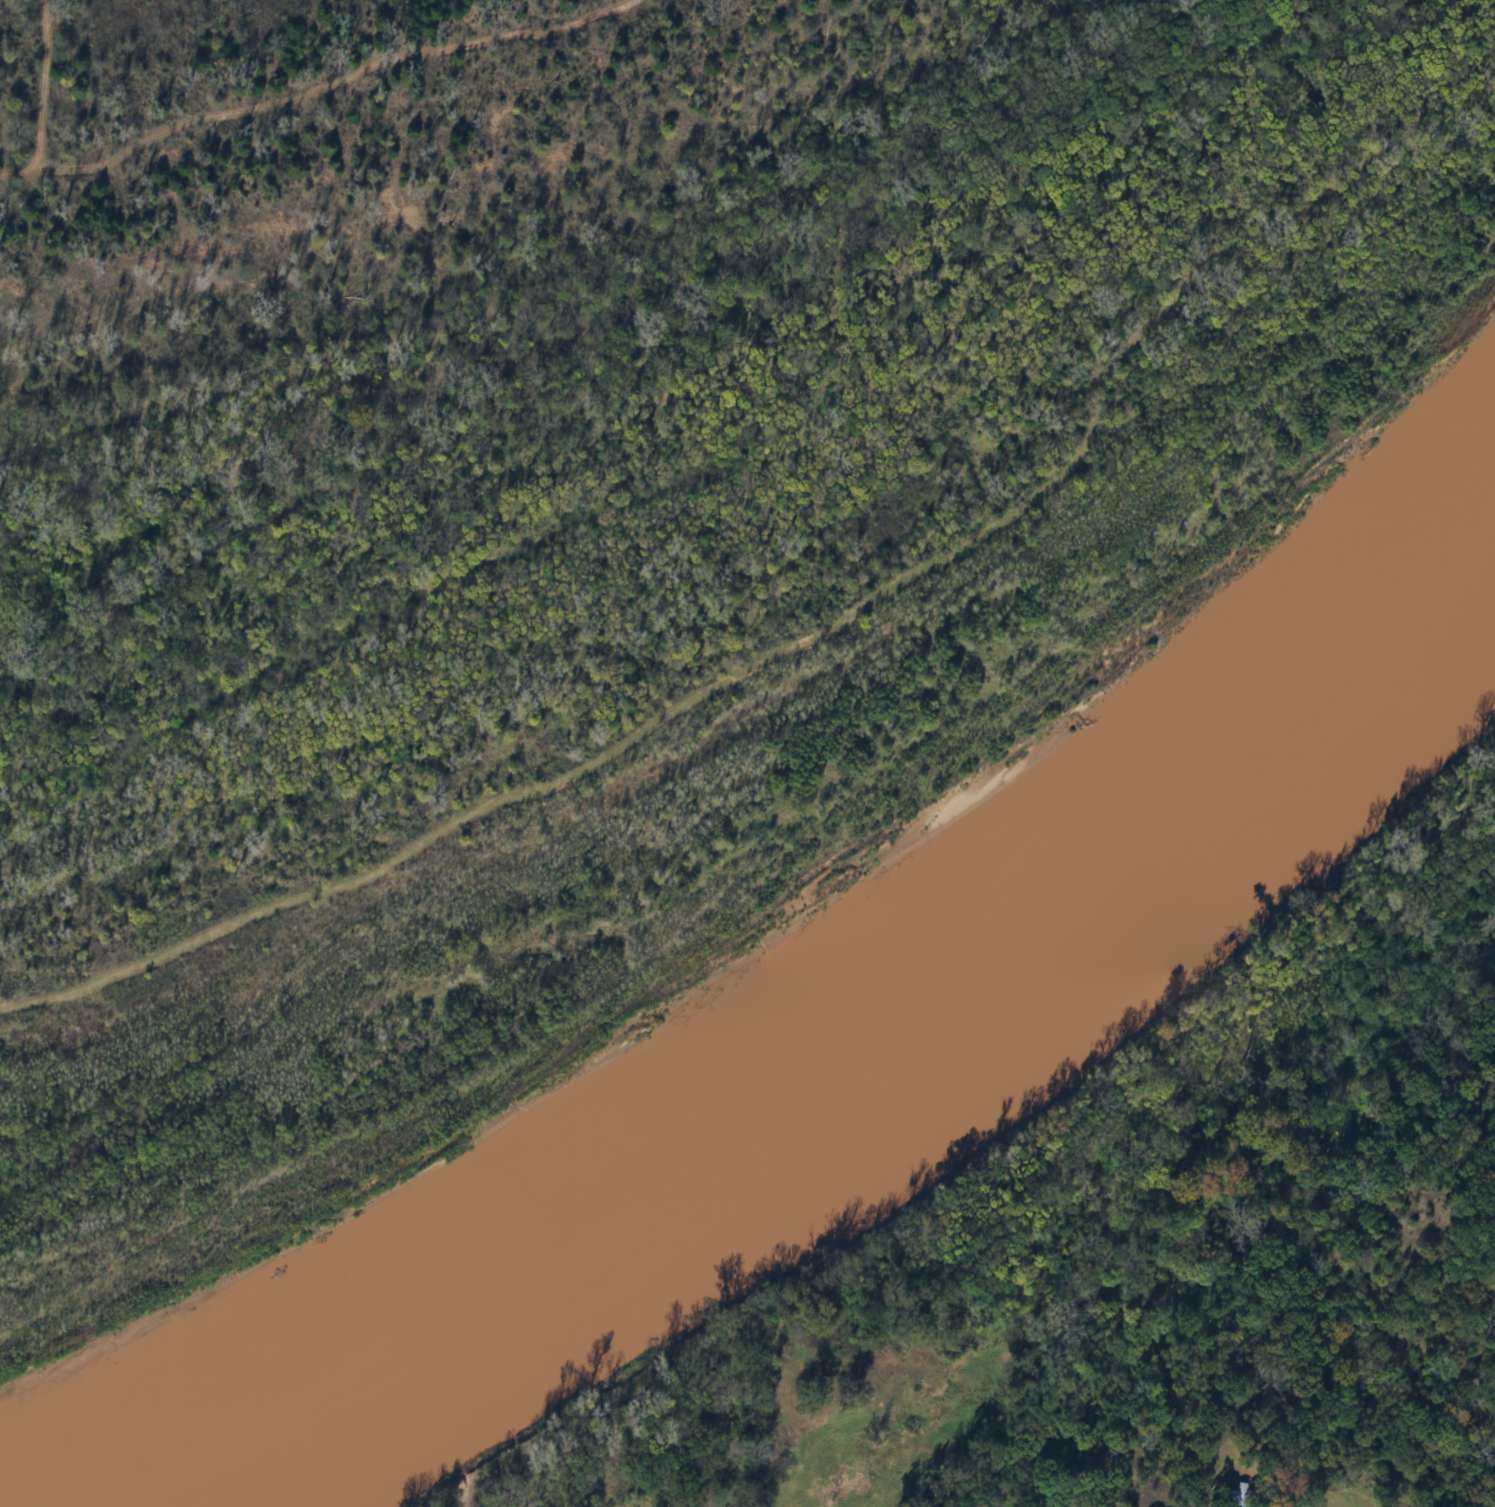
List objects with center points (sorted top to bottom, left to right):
river: (780, 987)
building: (1237, 1497)
road: (1270, 1506)

